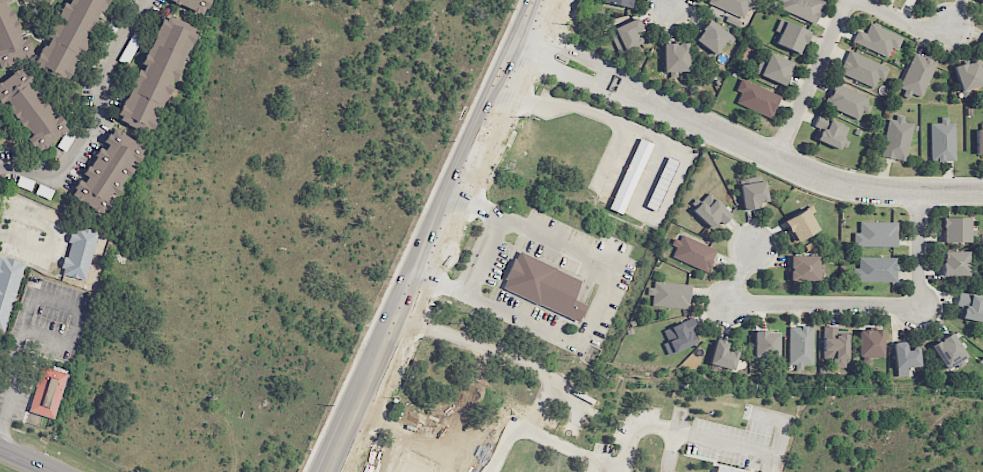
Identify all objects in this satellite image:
building: (981, 1)
building: (621, 3)
road: (671, 3)
building: (193, 4)
building: (733, 6)
building: (802, 8)
road: (905, 22)
building: (625, 34)
building: (69, 35)
building: (791, 36)
building: (712, 37)
building: (10, 38)
building: (877, 40)
building: (982, 42)
building: (675, 57)
road: (597, 62)
building: (774, 69)
building: (862, 69)
building: (157, 72)
building: (916, 75)
building: (968, 76)
road: (812, 80)
road: (586, 83)
building: (756, 98)
building: (847, 102)
road: (576, 107)
building: (29, 108)
road: (96, 116)
building: (830, 131)
building: (896, 138)
building: (65, 140)
building: (942, 141)
building: (979, 141)
building: (107, 171)
road: (810, 175)
building: (629, 176)
building: (661, 183)
building: (752, 194)
building: (710, 212)
building: (800, 225)
parking lot: (27, 229)
building: (955, 229)
road: (52, 232)
building: (876, 234)
road: (442, 235)
building: (79, 253)
building: (693, 253)
road: (486, 260)
building: (954, 263)
building: (805, 268)
building: (875, 269)
building: (546, 284)
building: (8, 287)
building: (670, 295)
road: (842, 306)
building: (970, 306)
road: (594, 309)
road: (74, 328)
building: (680, 336)
parking lot: (41, 339)
building: (870, 343)
building: (765, 345)
building: (800, 346)
building: (834, 346)
building: (948, 352)
road: (511, 354)
building: (722, 355)
building: (904, 358)
road: (15, 365)
road: (428, 383)
building: (46, 392)
road: (531, 431)
road: (399, 433)
road: (690, 434)
road: (668, 451)
road: (24, 461)
road: (599, 461)
building: (723, 470)

